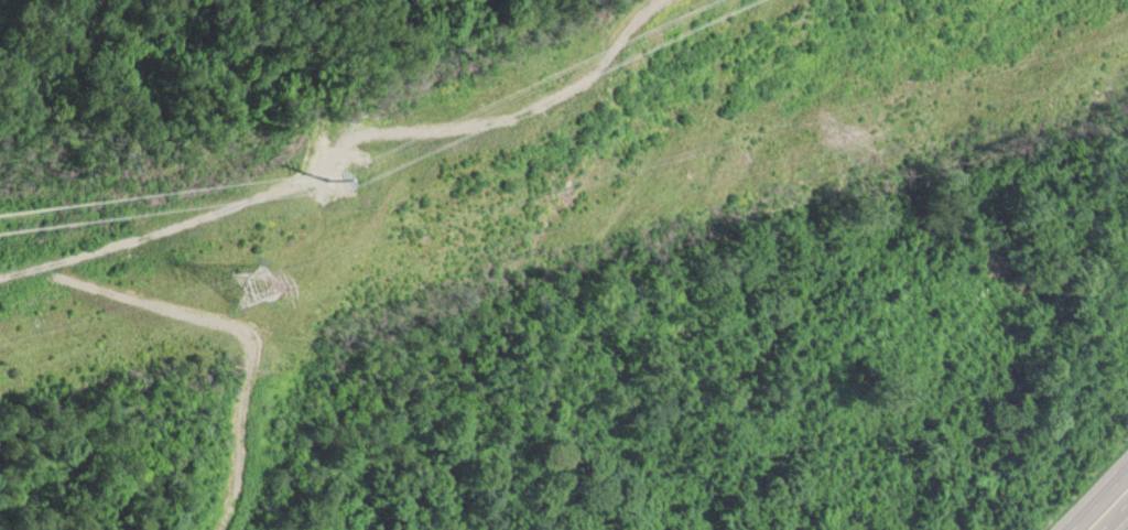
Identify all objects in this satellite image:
power tower: (365, 174)
power tower: (257, 288)
road: (1098, 499)
road: (1111, 512)

